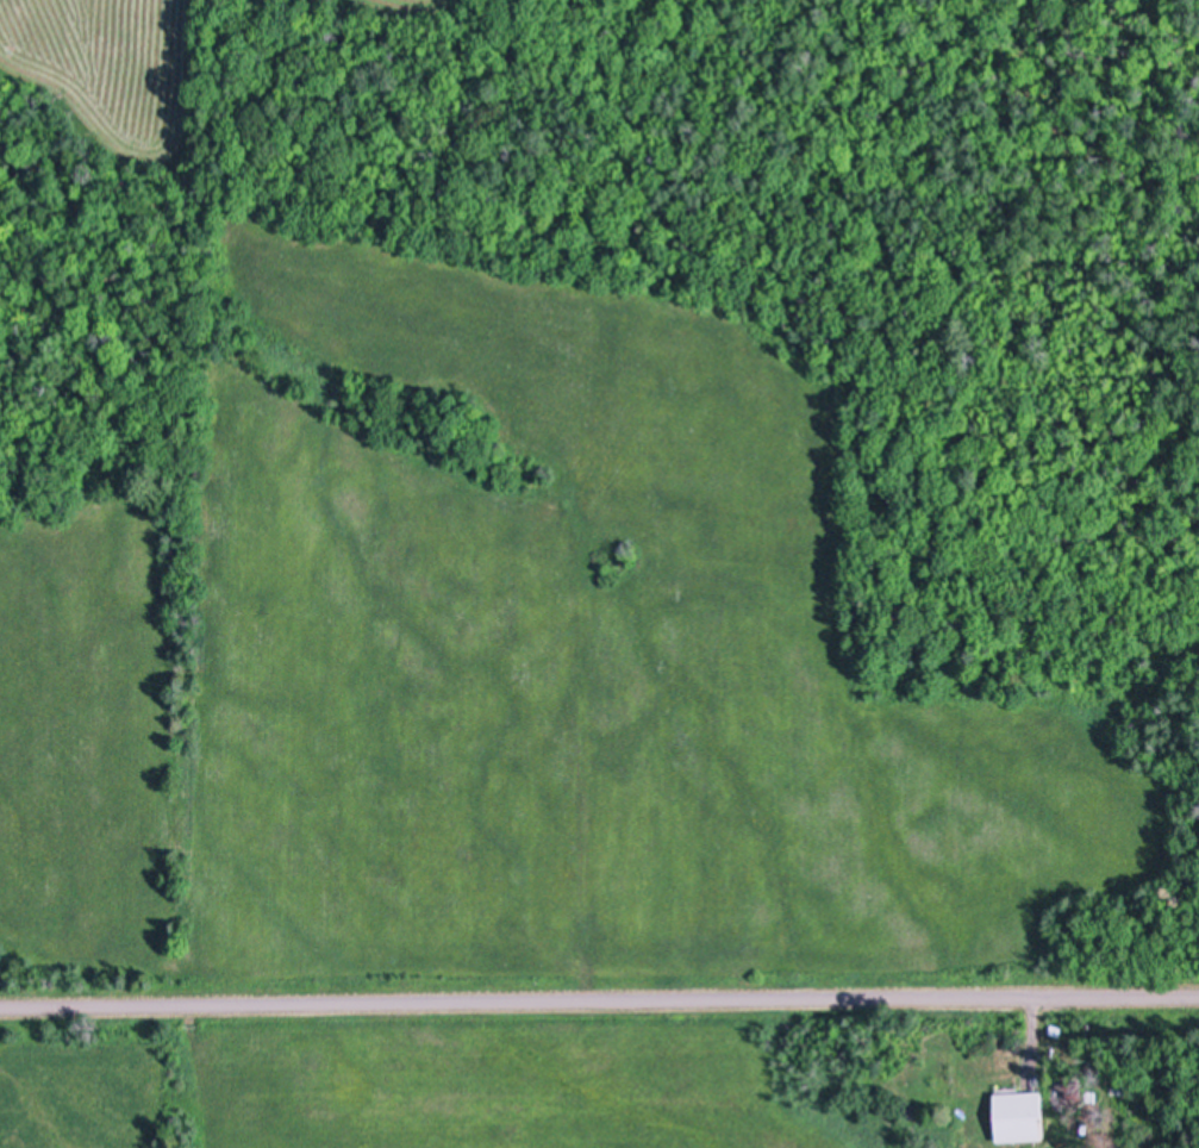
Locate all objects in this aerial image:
road: (599, 1002)
building: (1070, 1094)
building: (1019, 1117)

